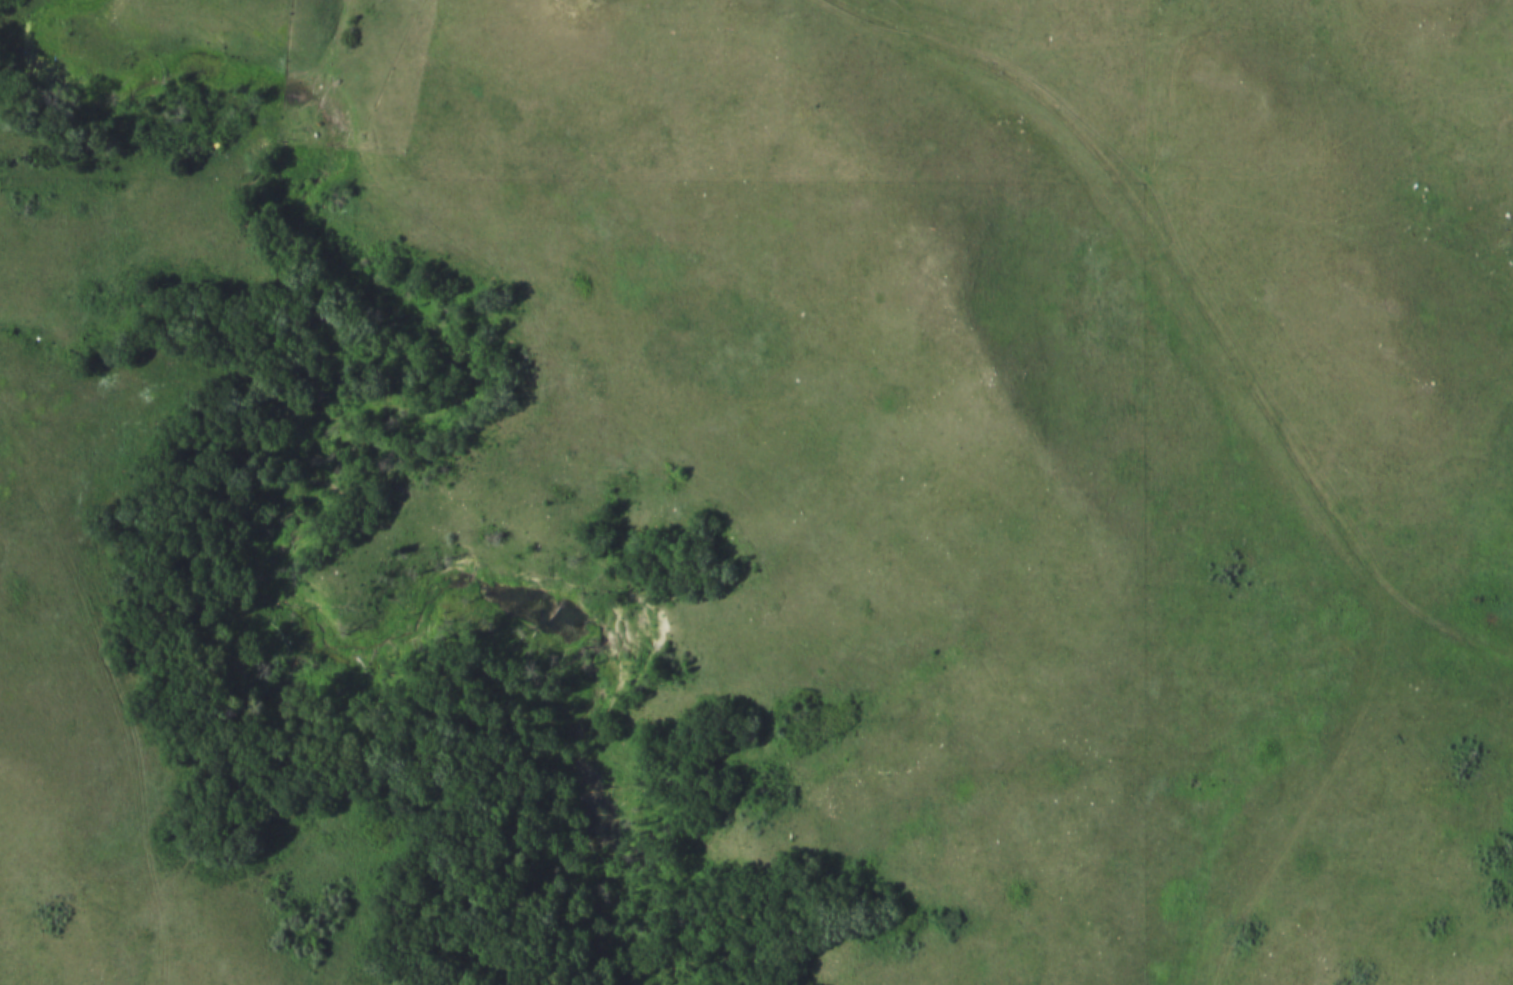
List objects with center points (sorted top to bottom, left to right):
road: (1254, 429)
road: (1443, 636)
road: (111, 690)

